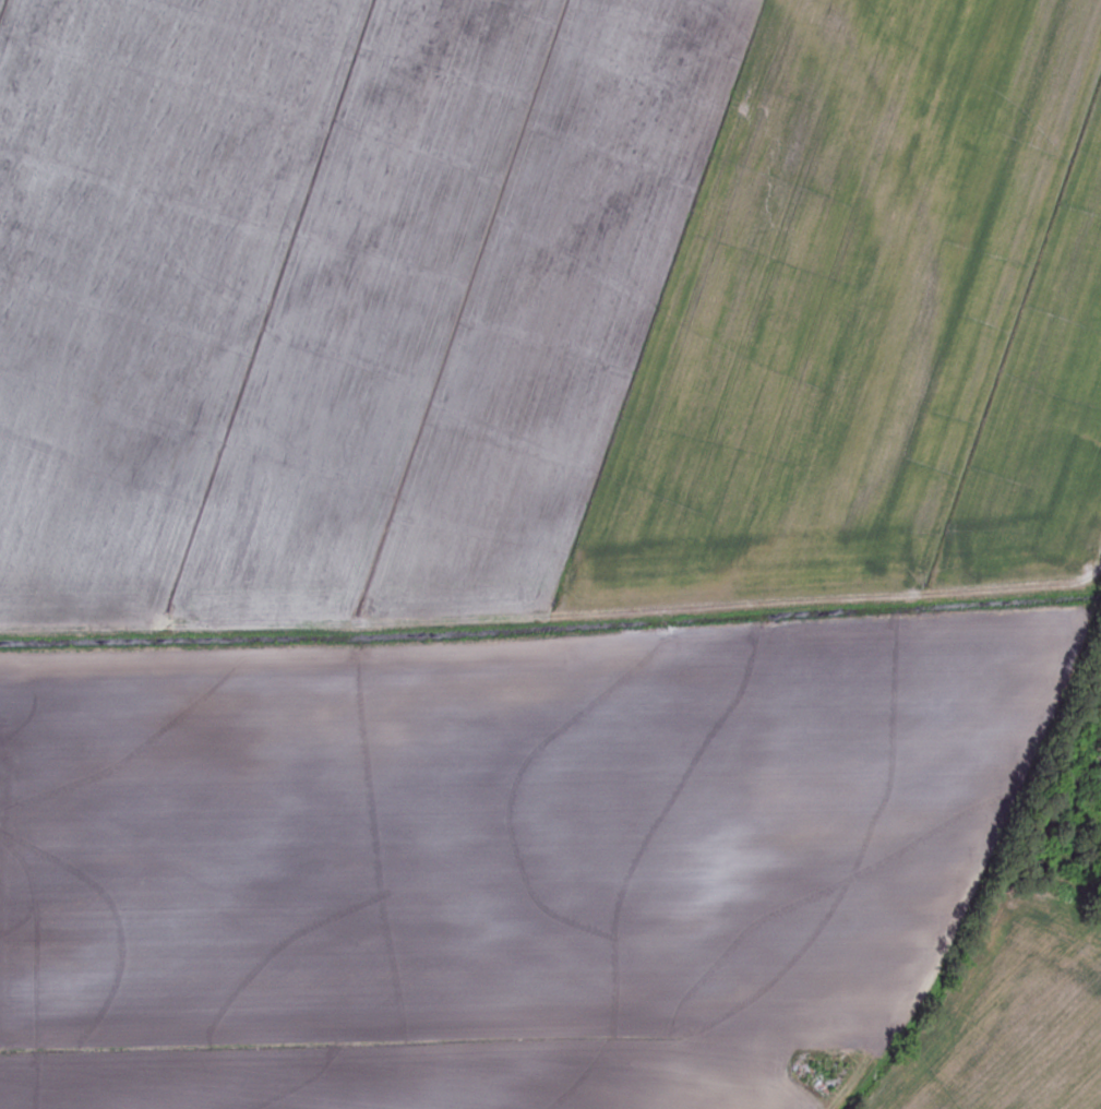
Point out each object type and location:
building: (827, 1082)

